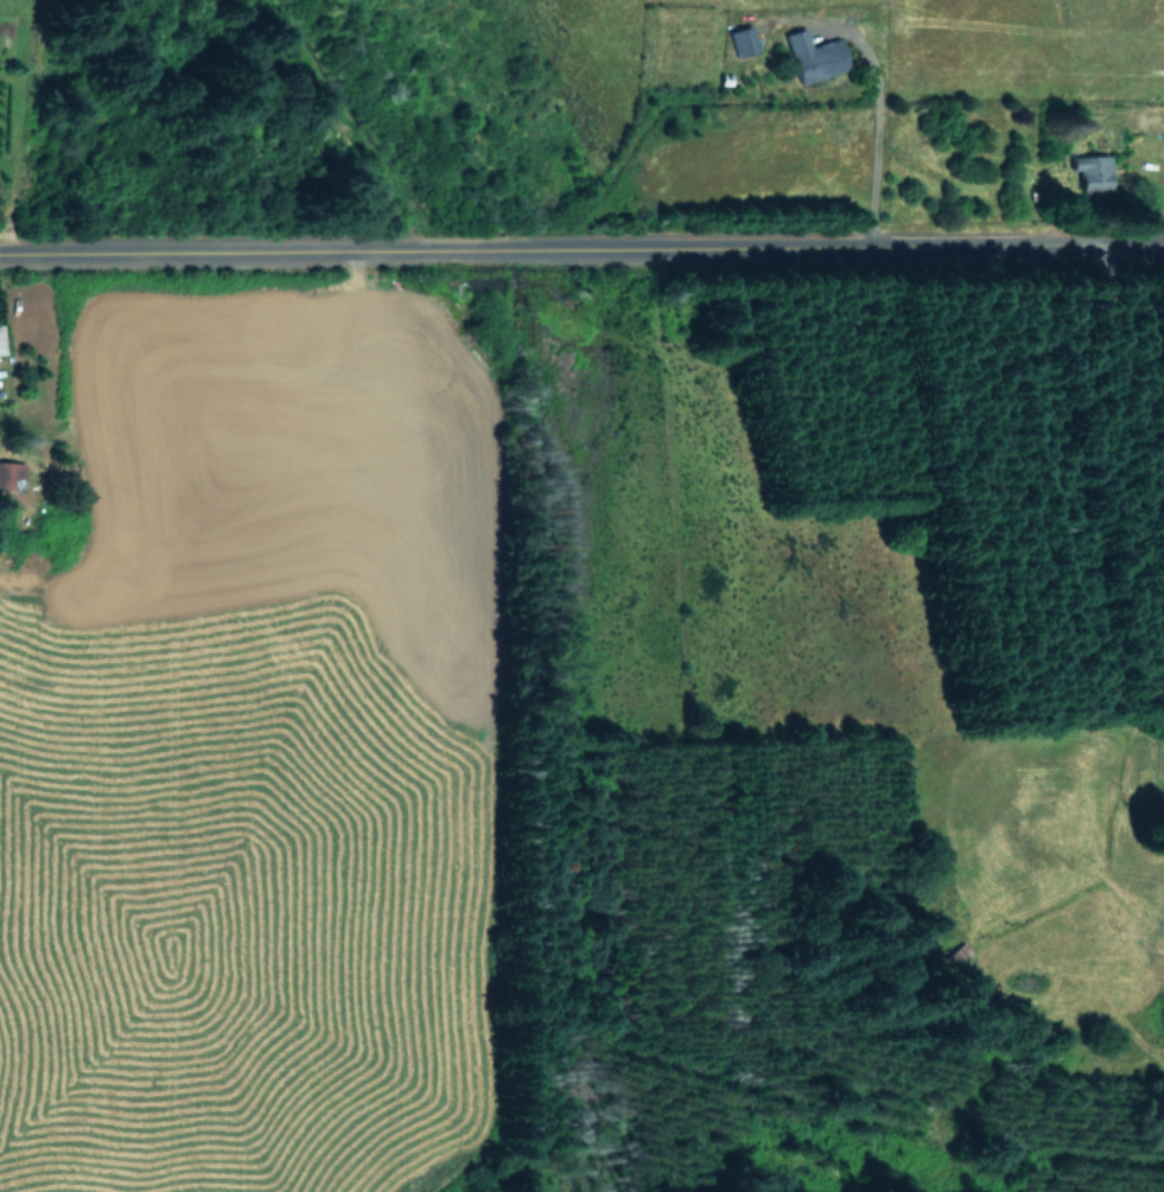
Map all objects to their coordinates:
building: (740, 40)
building: (810, 56)
road: (872, 95)
building: (1088, 170)
road: (581, 243)
building: (11, 476)
crop: (224, 700)

